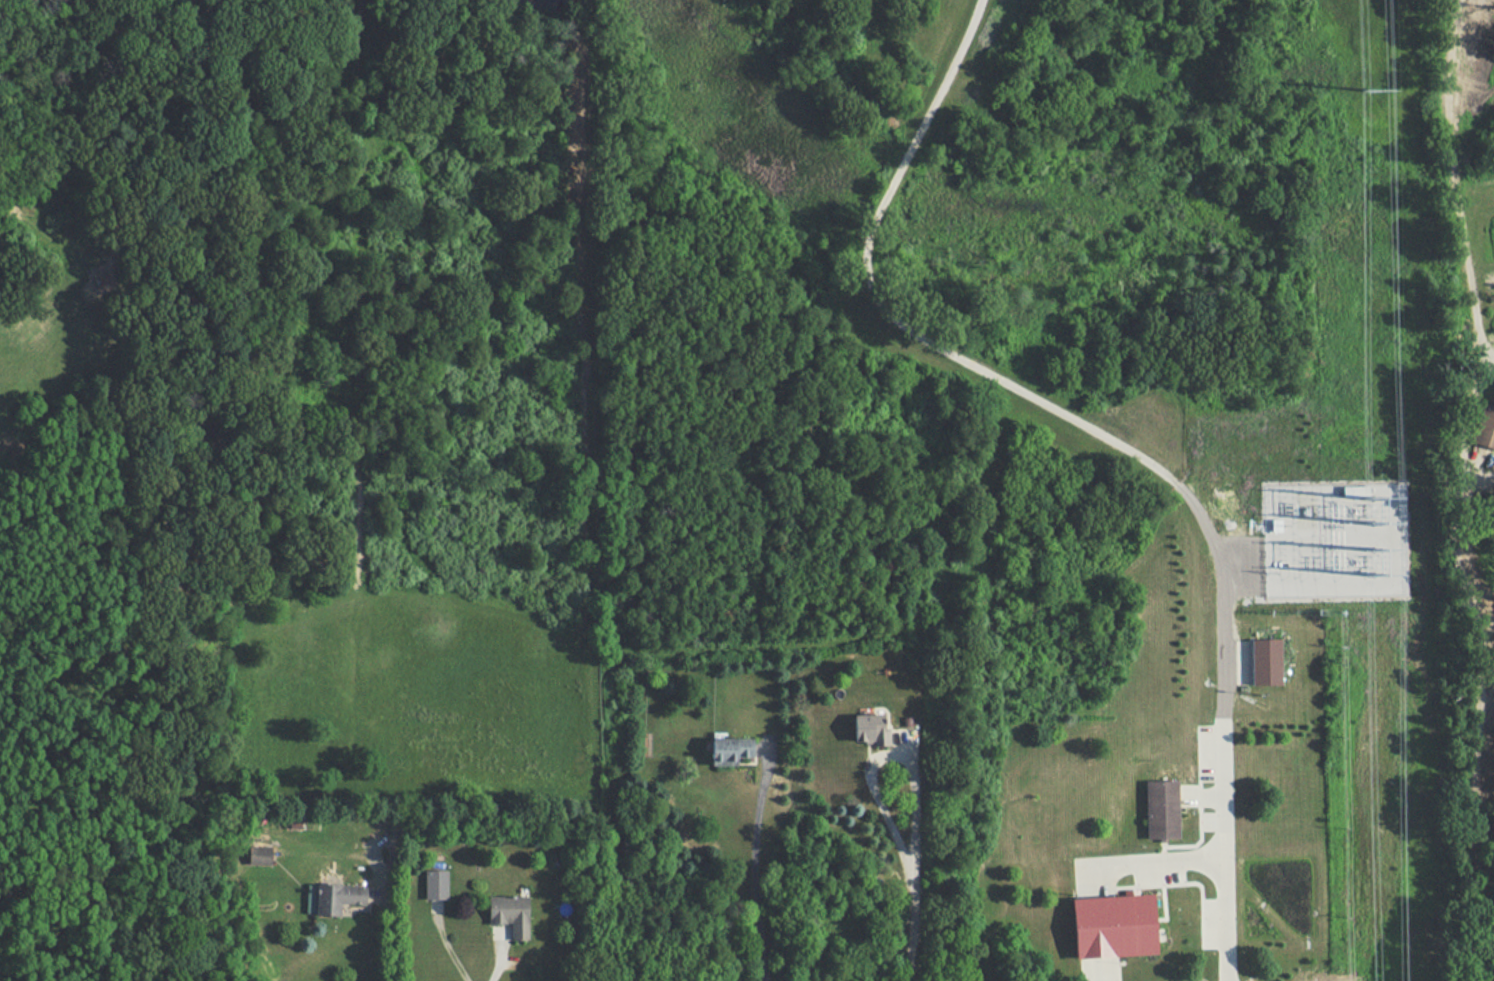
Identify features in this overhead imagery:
power tower: (1369, 93)
road: (881, 306)
wastewater plant: (974, 384)
building: (1487, 429)
power tower: (1375, 501)
power tower: (1376, 525)
power substation: (1336, 541)
power tower: (1376, 552)
power tower: (1377, 576)
road: (1226, 589)
building: (1267, 664)
building: (908, 722)
building: (872, 728)
road: (904, 741)
road: (769, 745)
building: (732, 748)
parking lot: (1214, 754)
road: (891, 756)
building: (1164, 812)
road: (1227, 849)
road: (374, 851)
road: (347, 855)
building: (261, 856)
road: (756, 859)
road: (1148, 864)
parking lot: (1162, 873)
road: (911, 879)
building: (437, 884)
building: (339, 897)
road: (437, 908)
building: (511, 914)
road: (390, 928)
building: (1116, 928)
road: (501, 931)
road: (914, 932)
road: (448, 948)
road: (499, 961)
road: (1101, 970)

